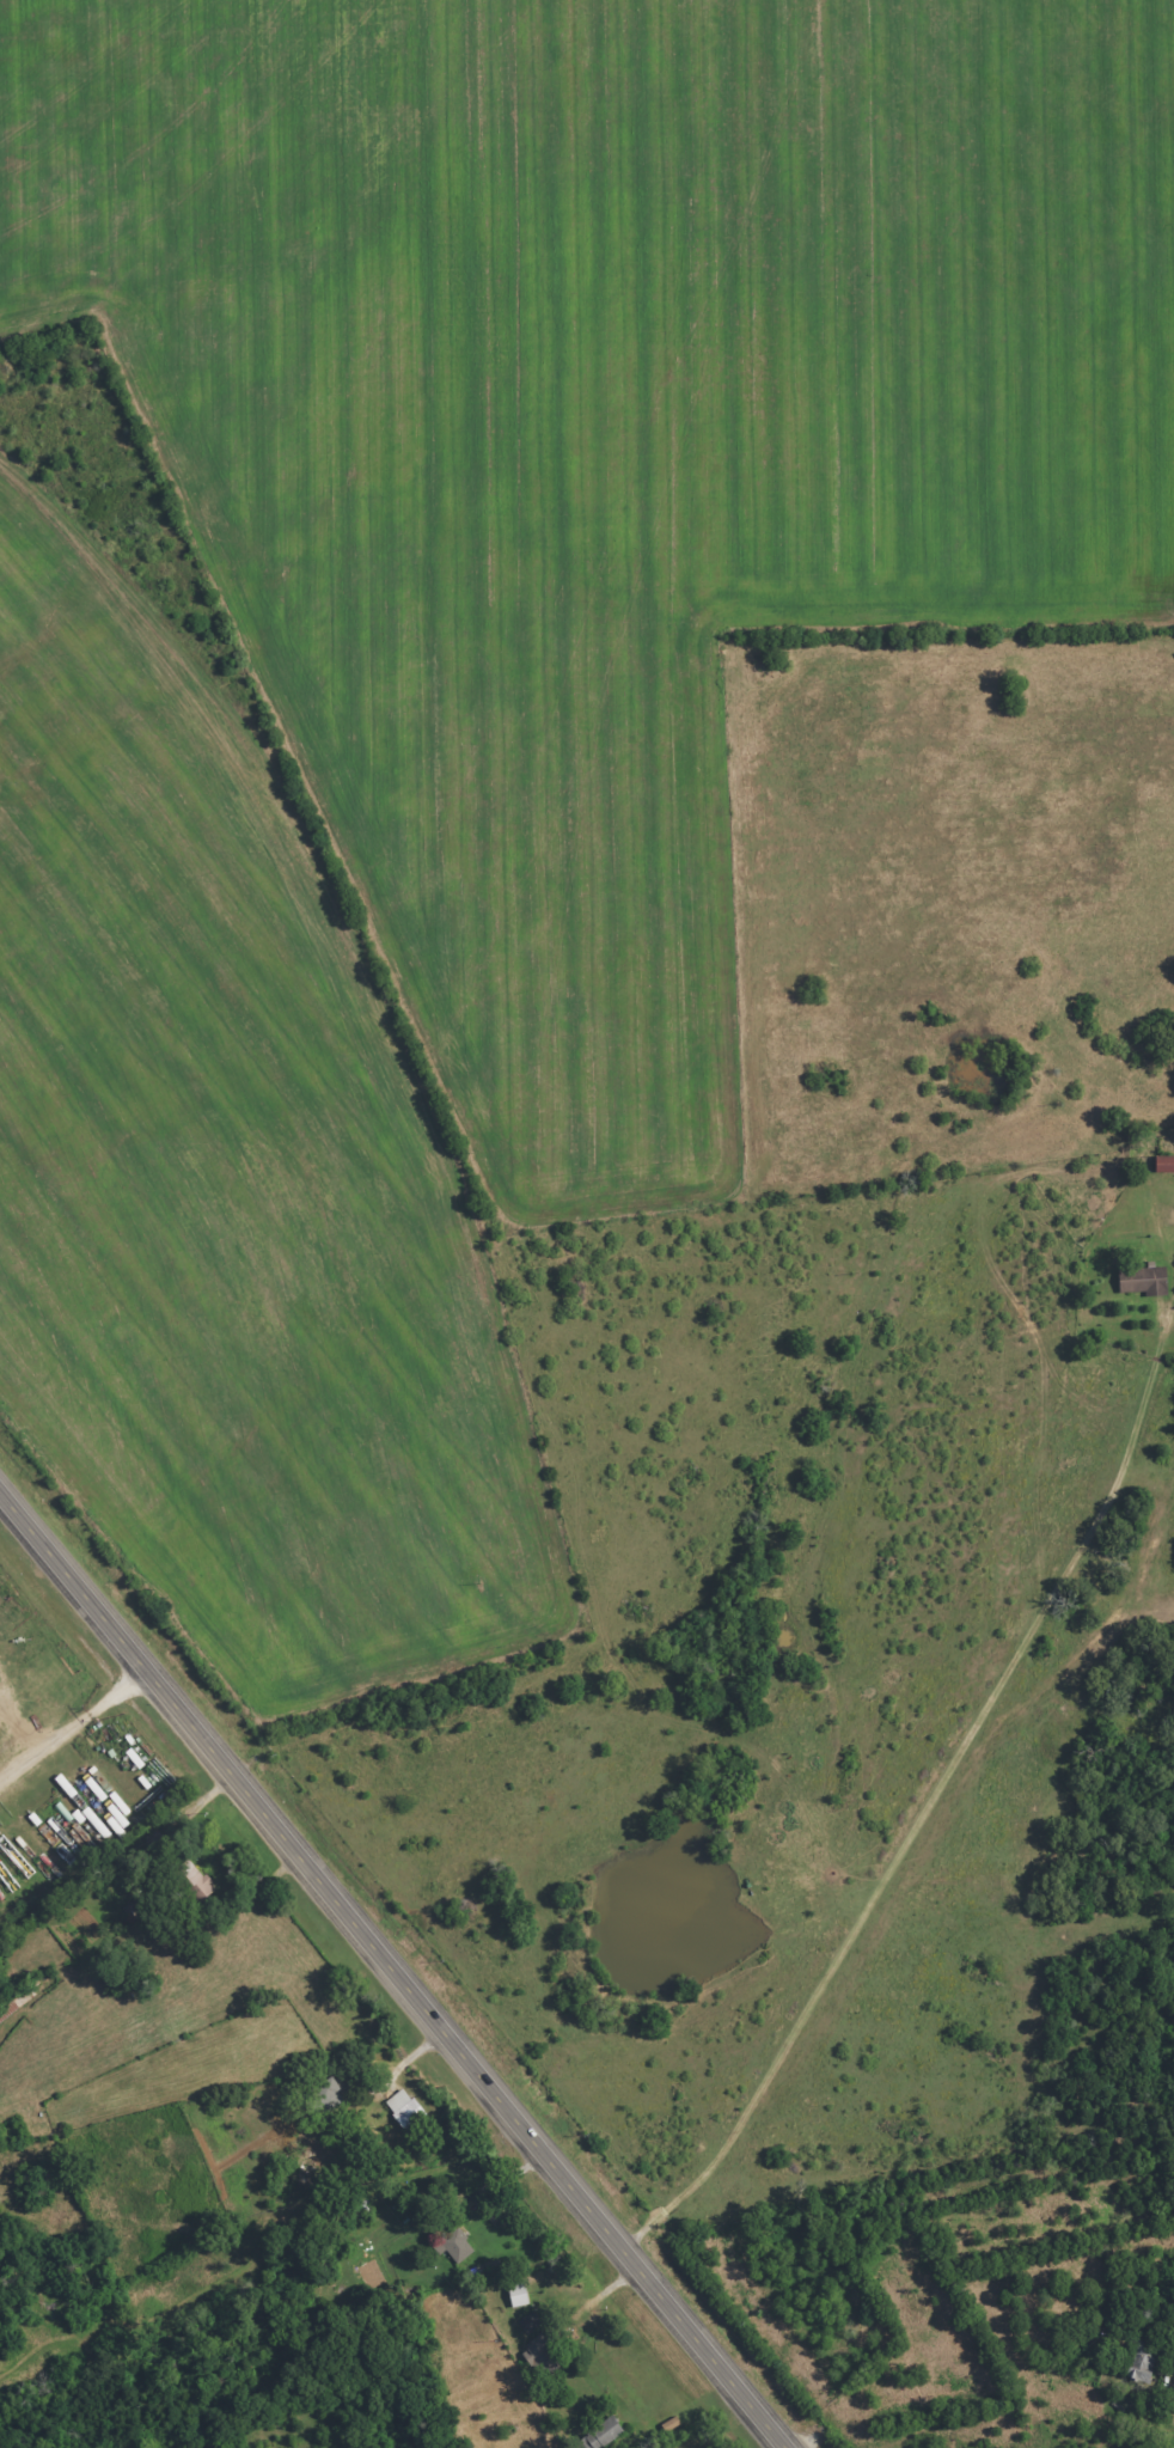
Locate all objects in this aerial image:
building: (1166, 1162)
building: (1145, 1280)
road: (73, 1724)
building: (98, 1783)
building: (192, 1878)
road: (392, 1970)
building: (325, 2099)
building: (405, 2108)
building: (457, 2246)
building: (520, 2295)
building: (531, 2322)
building: (543, 2355)
building: (605, 2434)

